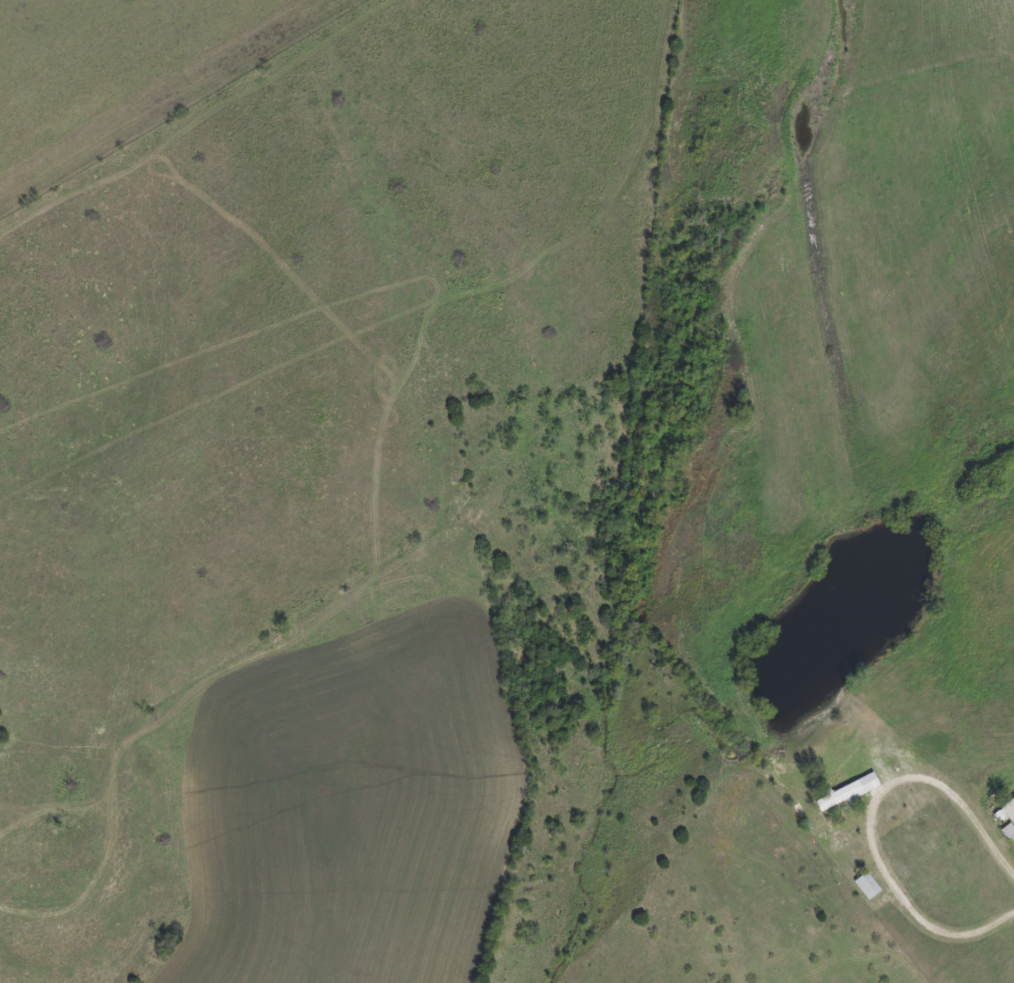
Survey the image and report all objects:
building: (837, 795)
building: (1005, 813)
building: (866, 884)

